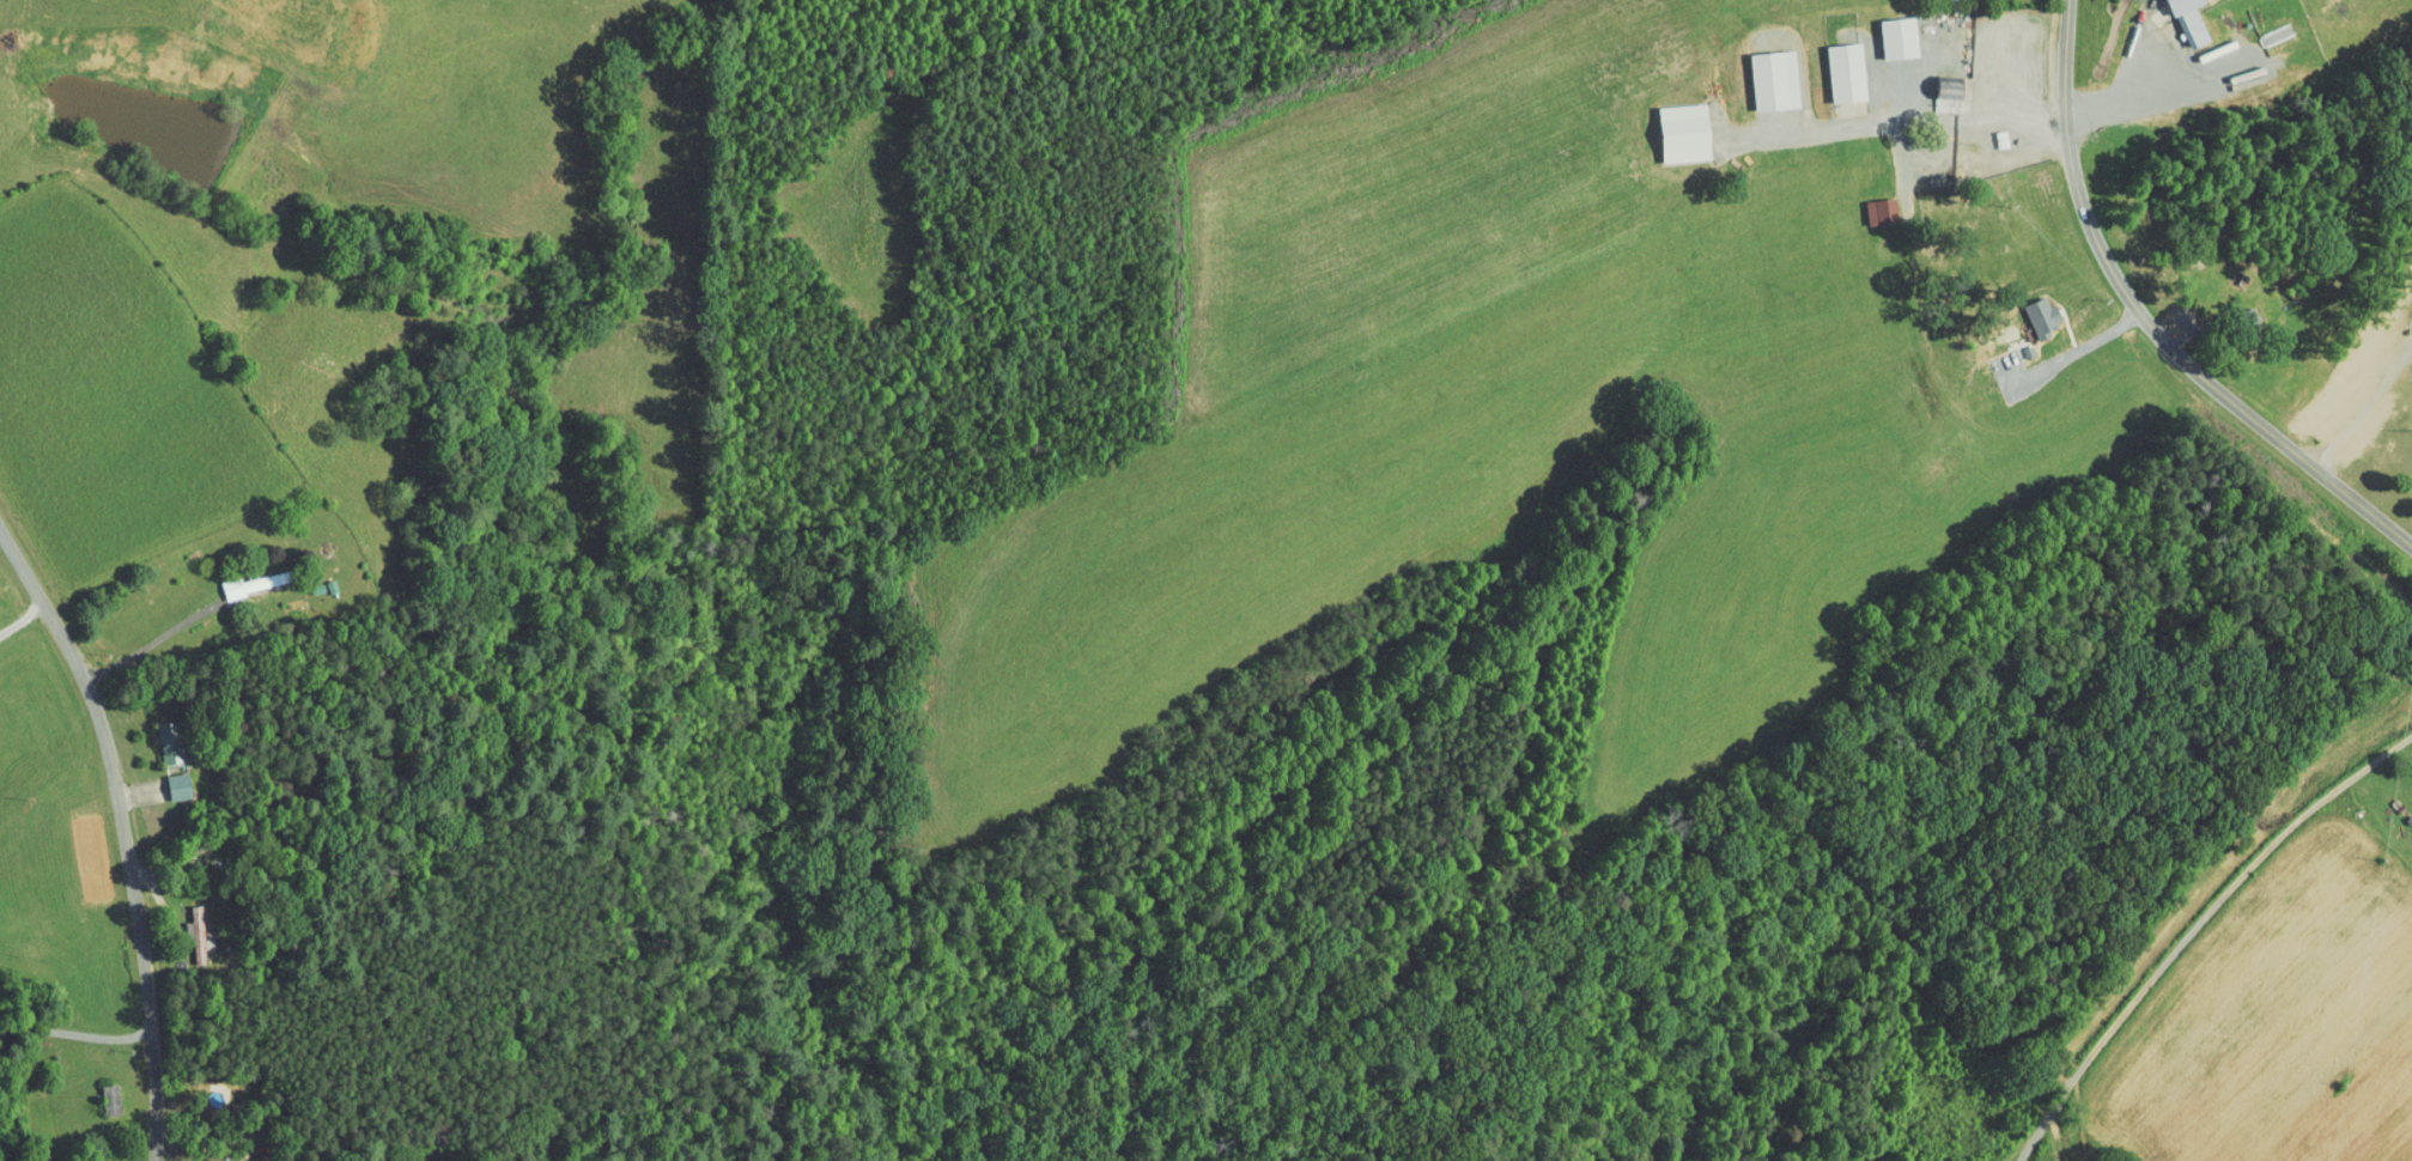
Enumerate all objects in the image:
building: (2179, 19)
building: (1889, 30)
building: (1836, 65)
building: (1764, 73)
building: (1938, 85)
building: (1676, 124)
building: (1991, 132)
building: (1871, 205)
building: (2229, 308)
building: (2033, 311)
road: (2151, 322)
road: (22, 618)
building: (158, 734)
building: (168, 778)
road: (126, 831)
building: (187, 926)
road: (2195, 926)
road: (77, 1029)
building: (201, 1155)

